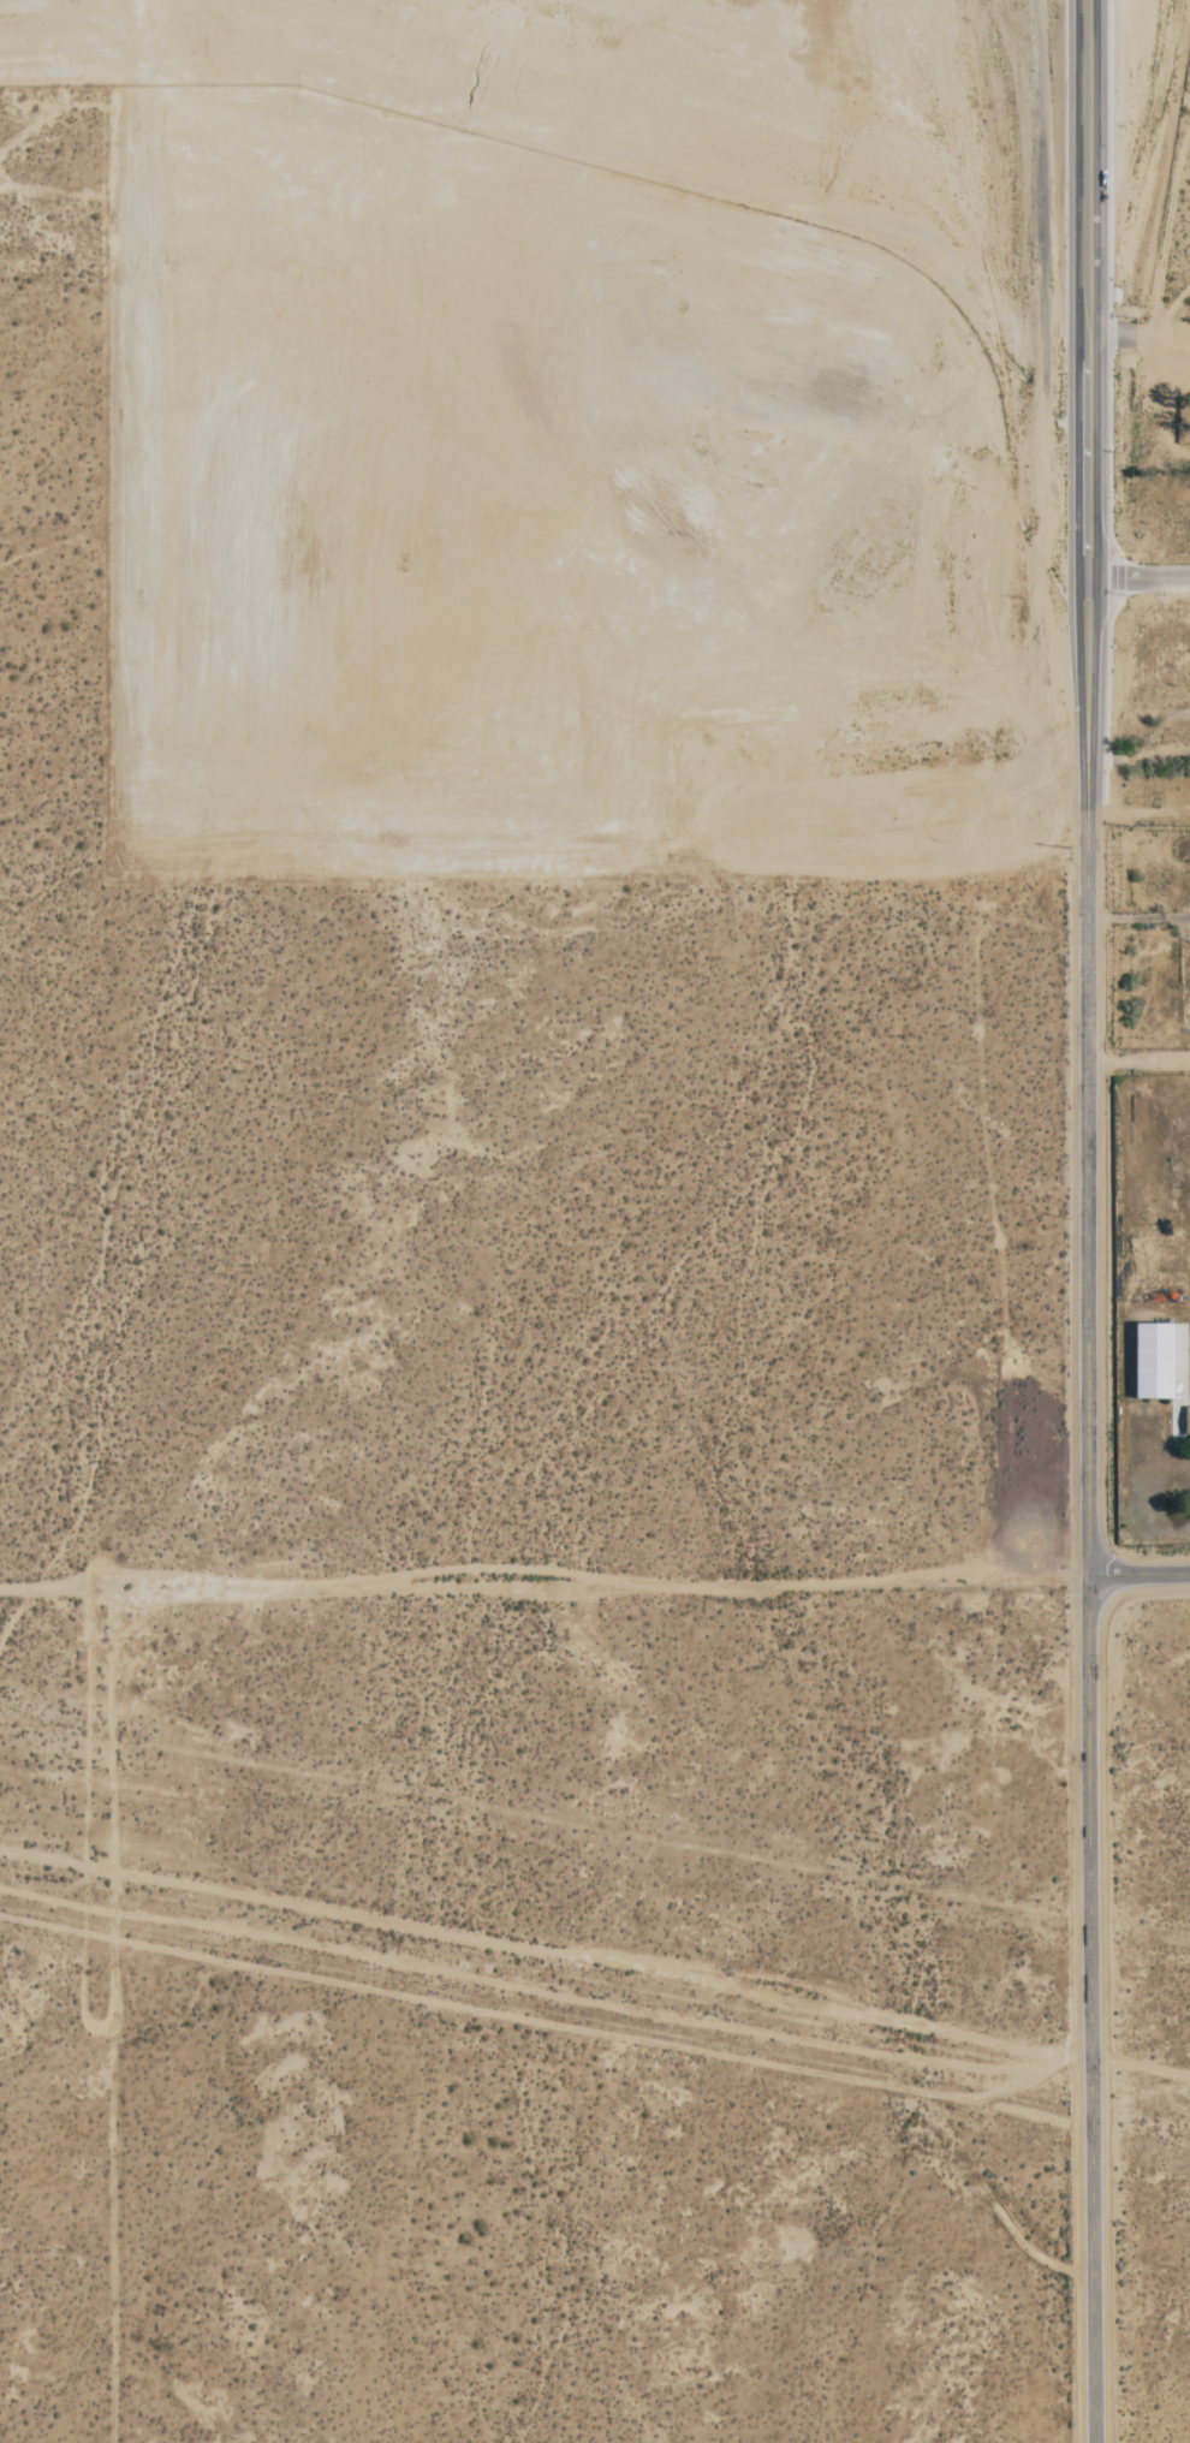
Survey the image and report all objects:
road: (1172, 310)
road: (1142, 335)
road: (1143, 577)
road: (1095, 787)
road: (1142, 1044)
building: (1149, 1363)
building: (1185, 1425)
road: (1140, 1576)
road: (543, 1580)
road: (1096, 2010)

